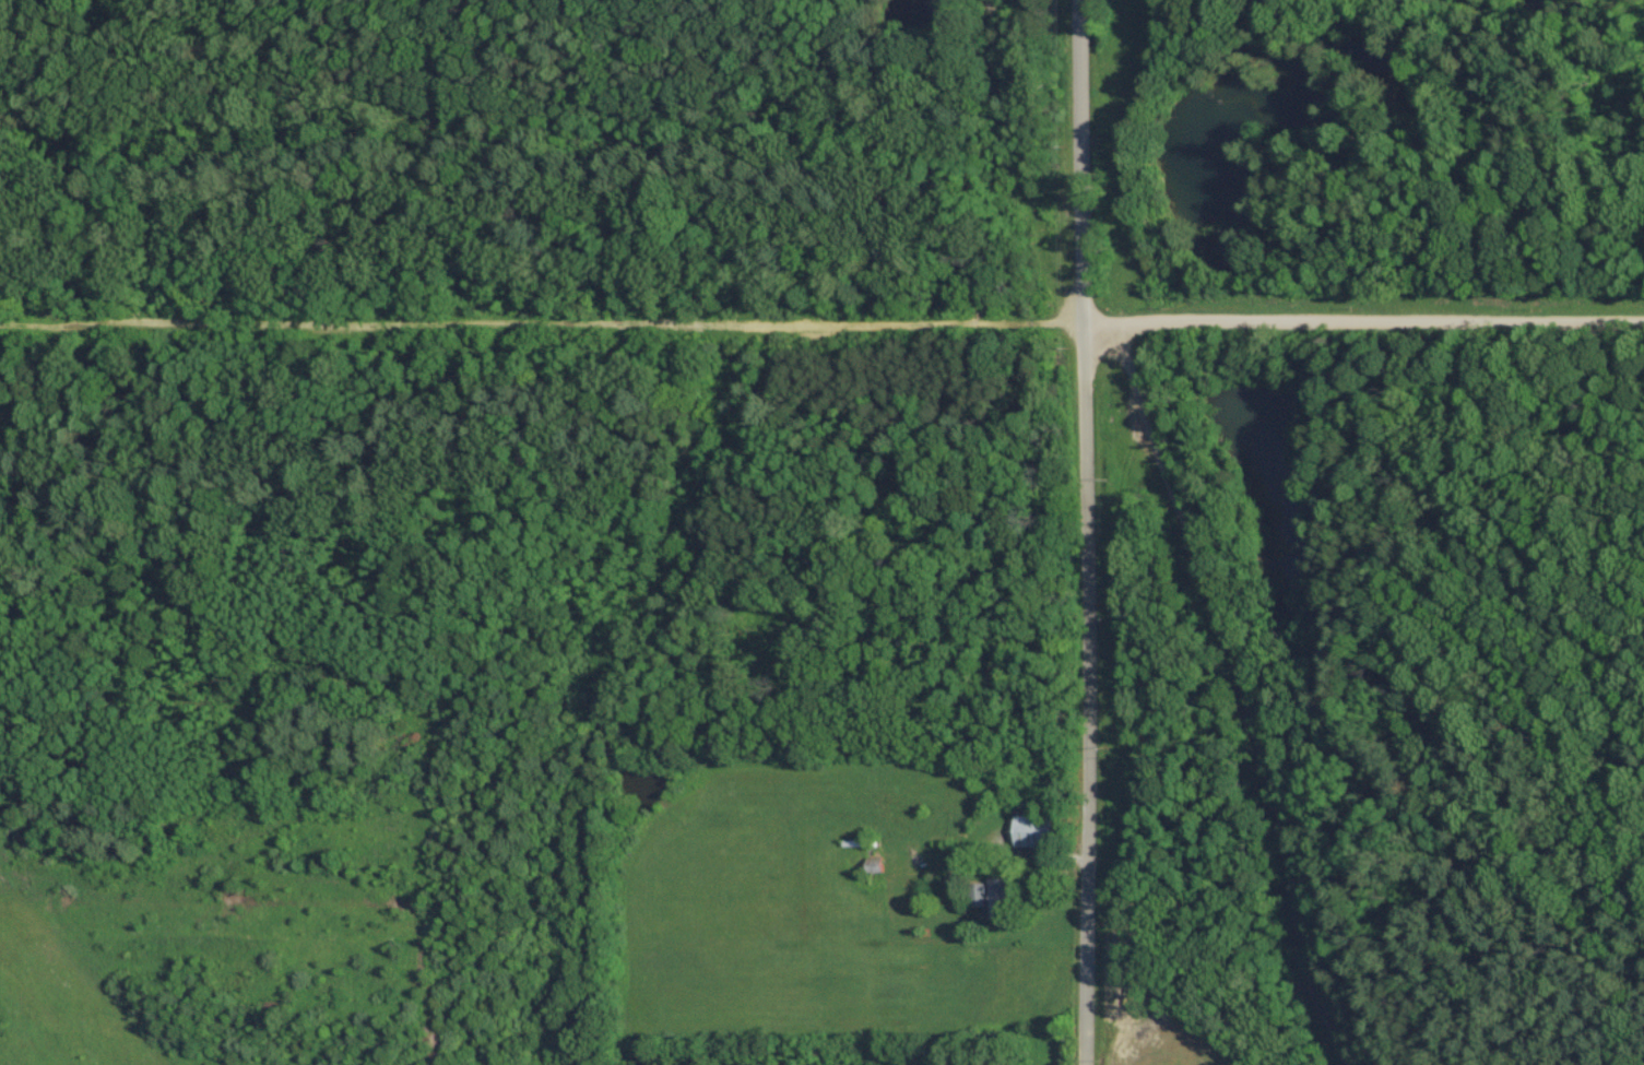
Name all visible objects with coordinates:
road: (821, 320)
road: (1083, 453)
road: (1085, 986)

